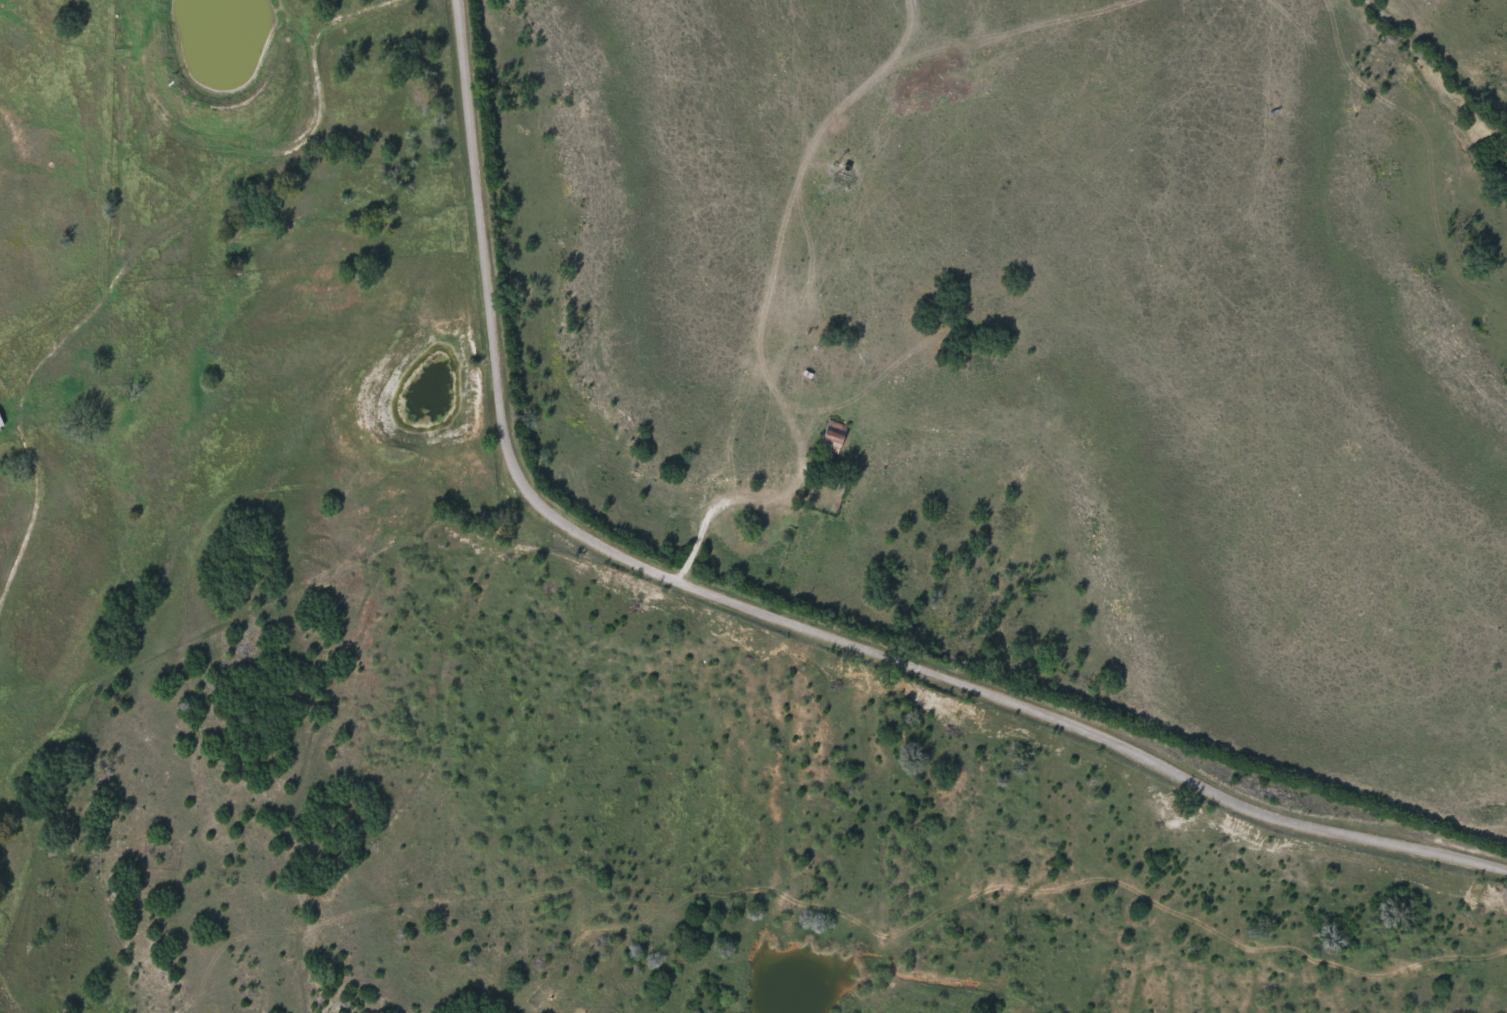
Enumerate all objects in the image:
railway: (1457, 58)
building: (1, 420)
building: (834, 439)
road: (771, 619)

